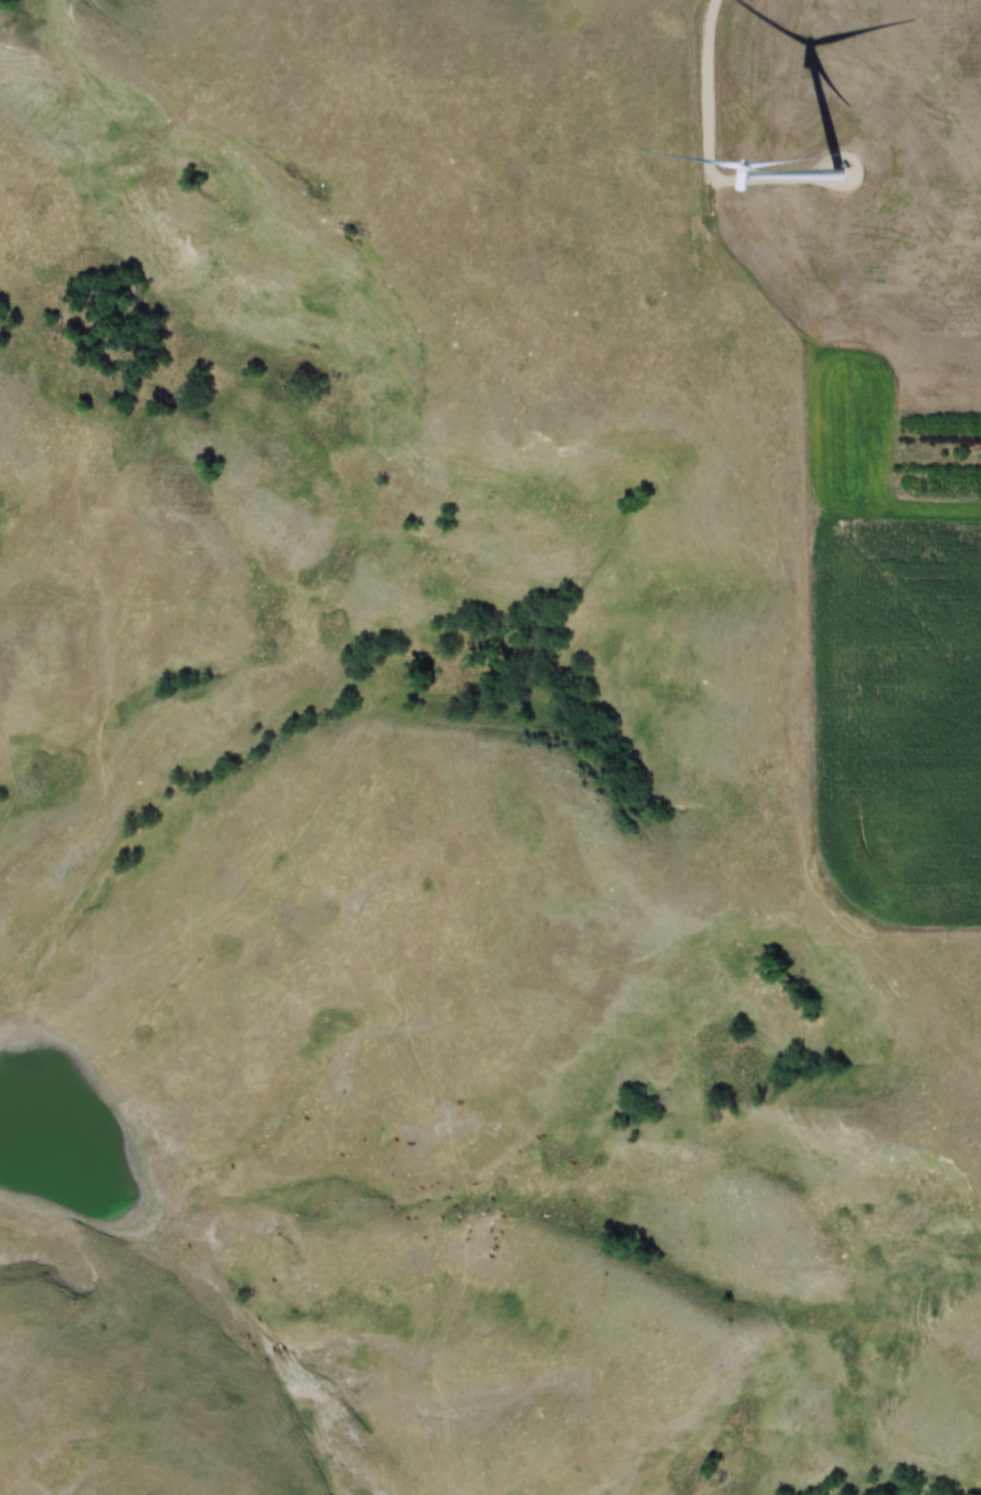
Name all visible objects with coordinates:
road: (704, 142)
wind turbine: (844, 166)

